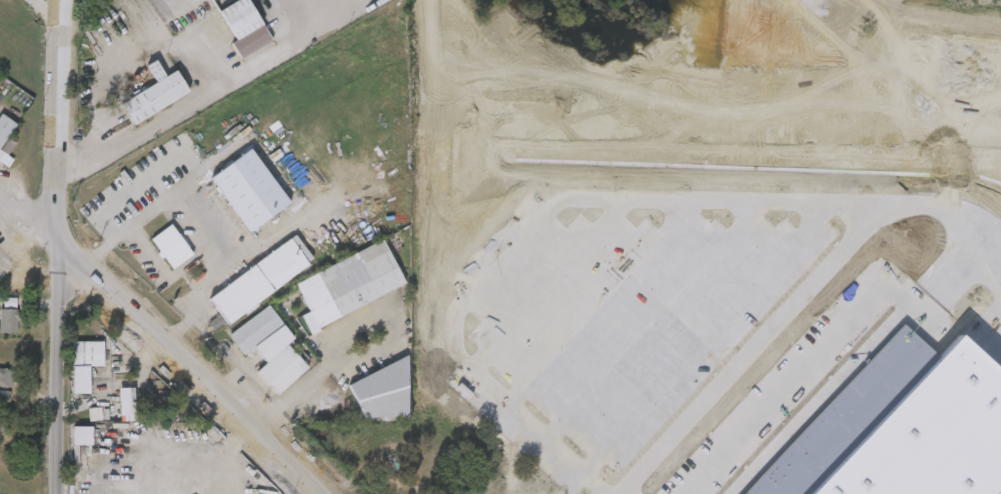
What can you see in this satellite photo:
road: (46, 4)
road: (465, 15)
building: (243, 26)
road: (536, 31)
building: (154, 92)
road: (798, 92)
road: (197, 102)
road: (487, 102)
road: (923, 124)
road: (950, 124)
building: (5, 129)
building: (6, 152)
road: (949, 184)
road: (923, 185)
building: (249, 189)
road: (544, 214)
road: (197, 220)
road: (27, 221)
road: (273, 233)
road: (53, 246)
building: (170, 246)
road: (877, 276)
building: (258, 280)
road: (548, 282)
building: (348, 283)
road: (602, 300)
building: (10, 303)
road: (793, 306)
building: (9, 320)
road: (654, 320)
road: (934, 320)
road: (705, 337)
building: (269, 347)
building: (85, 364)
road: (190, 364)
road: (320, 367)
road: (237, 373)
building: (6, 378)
building: (382, 390)
building: (3, 426)
building: (82, 436)
building: (583, 467)
building: (386, 473)
building: (795, 484)

